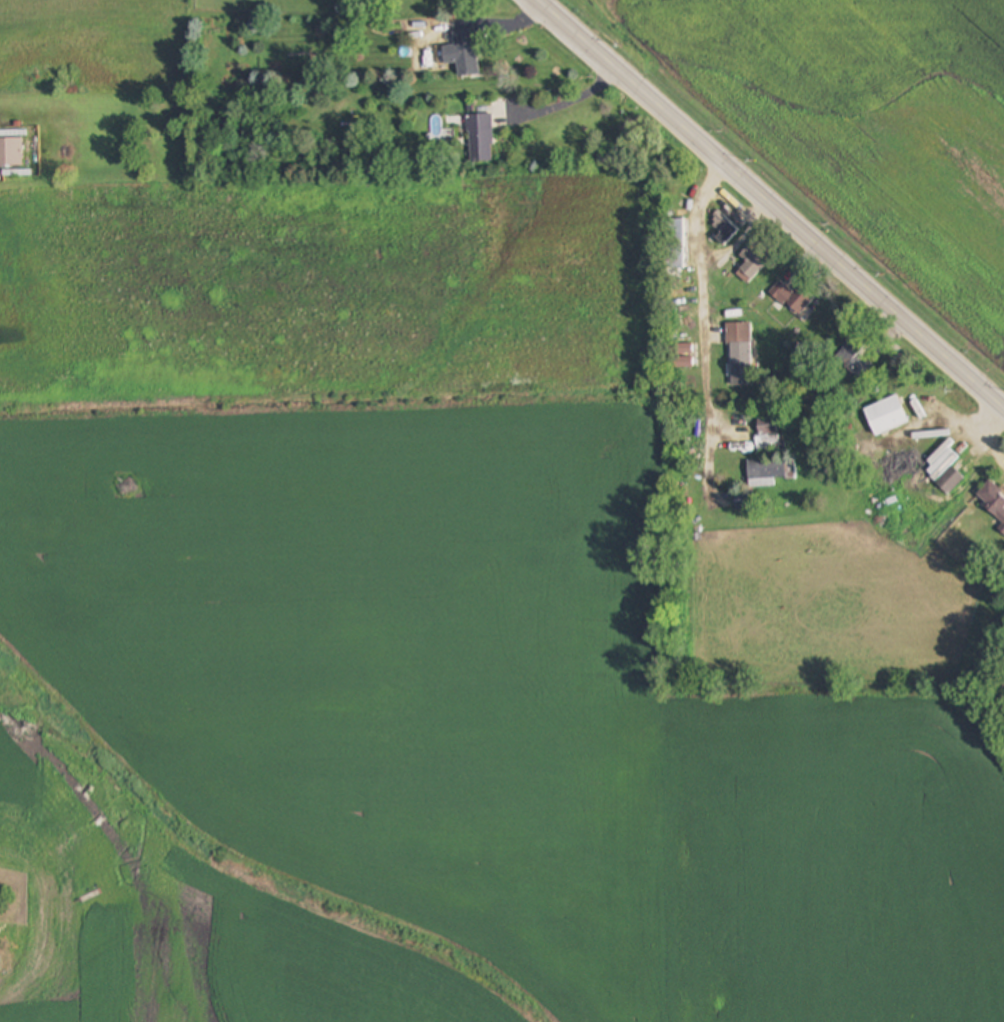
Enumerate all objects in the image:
building: (463, 53)
building: (481, 138)
building: (11, 152)
road: (768, 207)
road: (738, 213)
building: (727, 234)
building: (674, 244)
road: (727, 254)
building: (752, 262)
building: (794, 296)
road: (701, 329)
building: (740, 355)
building: (854, 359)
building: (885, 415)
building: (767, 427)
building: (765, 472)
building: (949, 481)
building: (992, 499)
building: (1002, 529)

